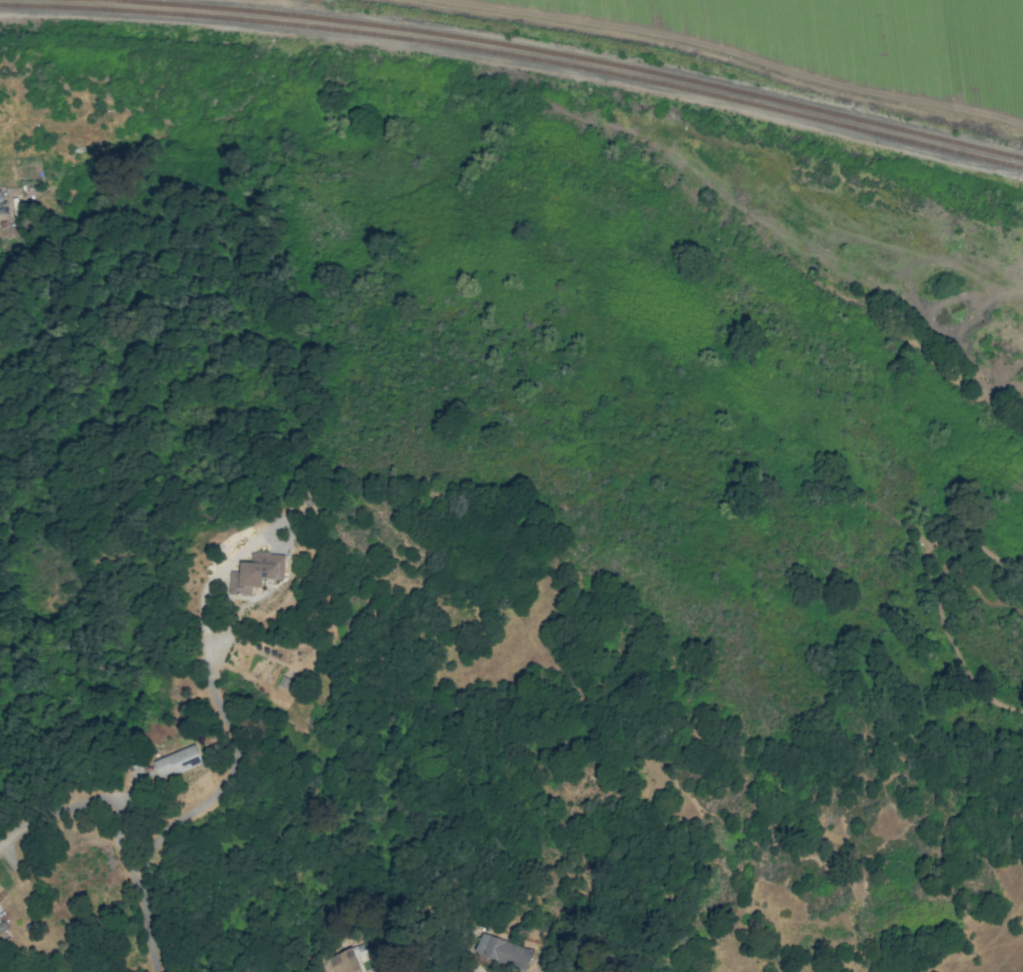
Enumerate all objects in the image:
crop: (820, 46)
railway: (515, 56)
railway: (564, 56)
building: (18, 208)
building: (257, 572)
building: (179, 760)
road: (233, 761)
building: (503, 950)
building: (349, 962)

